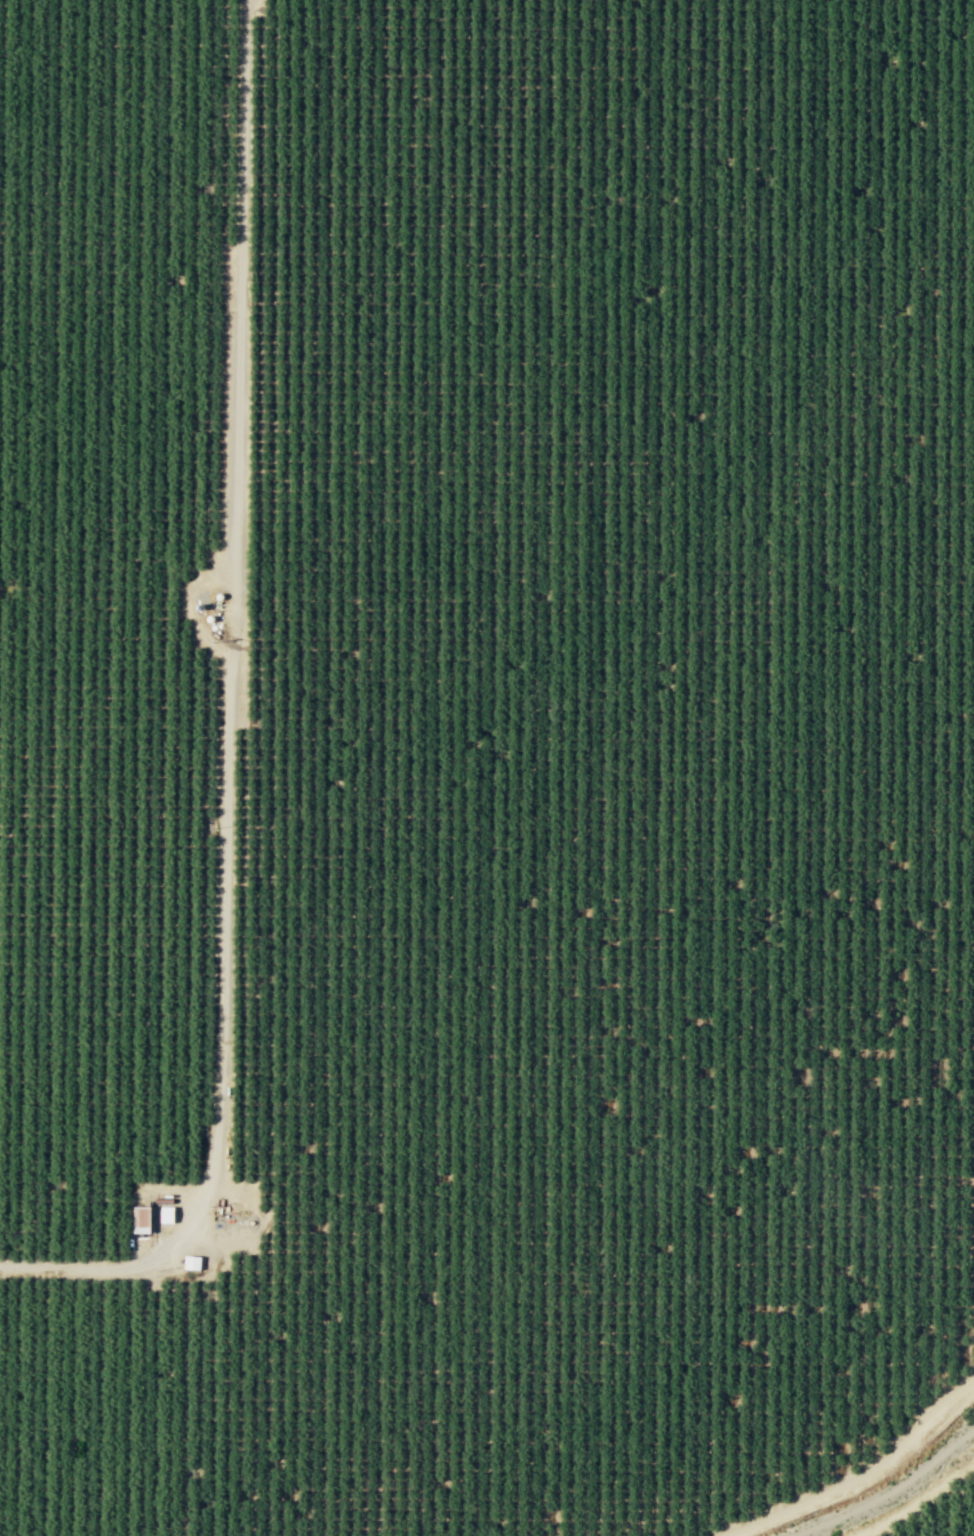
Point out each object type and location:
road: (232, 650)
building: (166, 1214)
building: (141, 1219)
building: (191, 1262)
road: (67, 1265)
road: (863, 1475)
road: (918, 1501)

